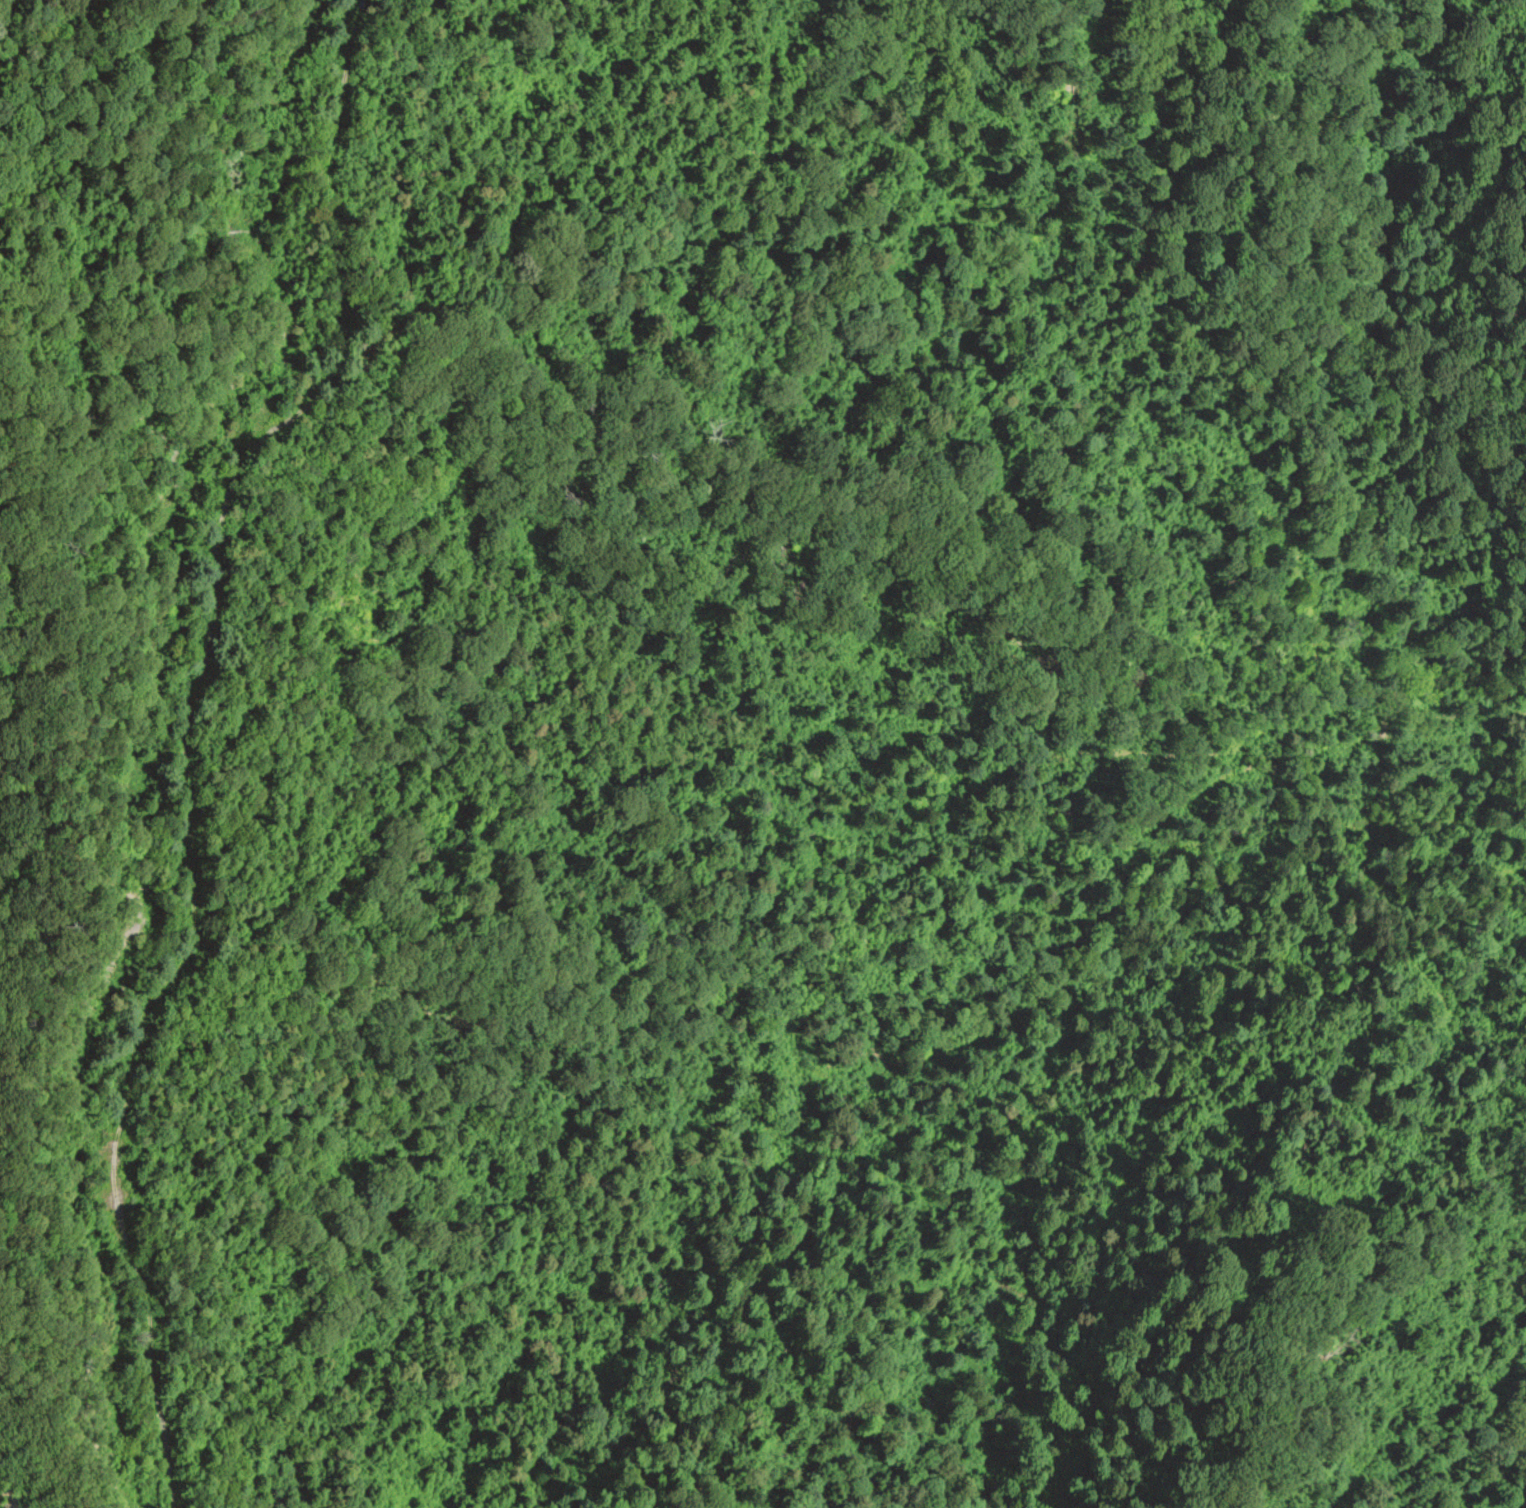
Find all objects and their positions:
road: (2, 1504)

